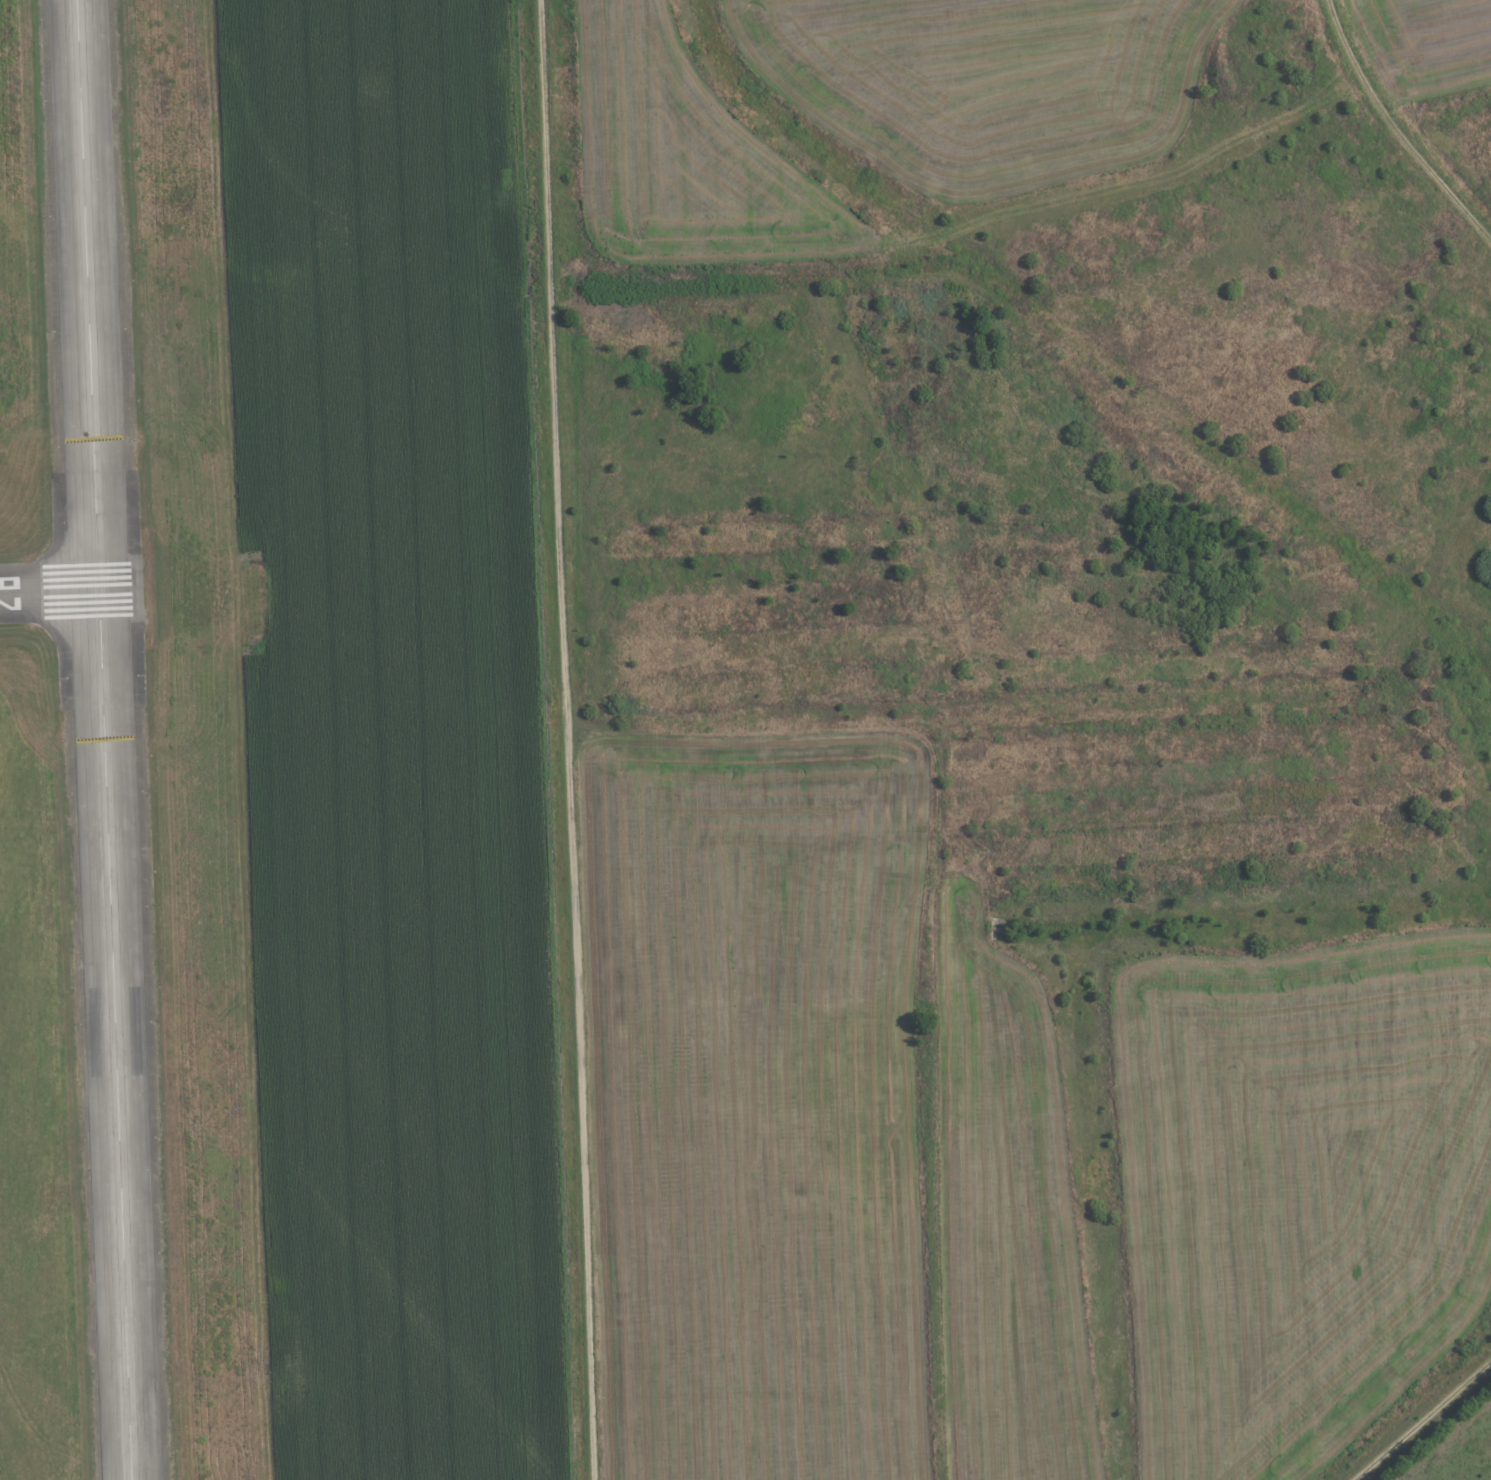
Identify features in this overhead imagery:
road: (1400, 123)
road: (552, 357)
airport runway: (64, 594)
airport runway: (104, 740)
airport: (273, 752)
road: (580, 1097)
road: (1423, 1421)

